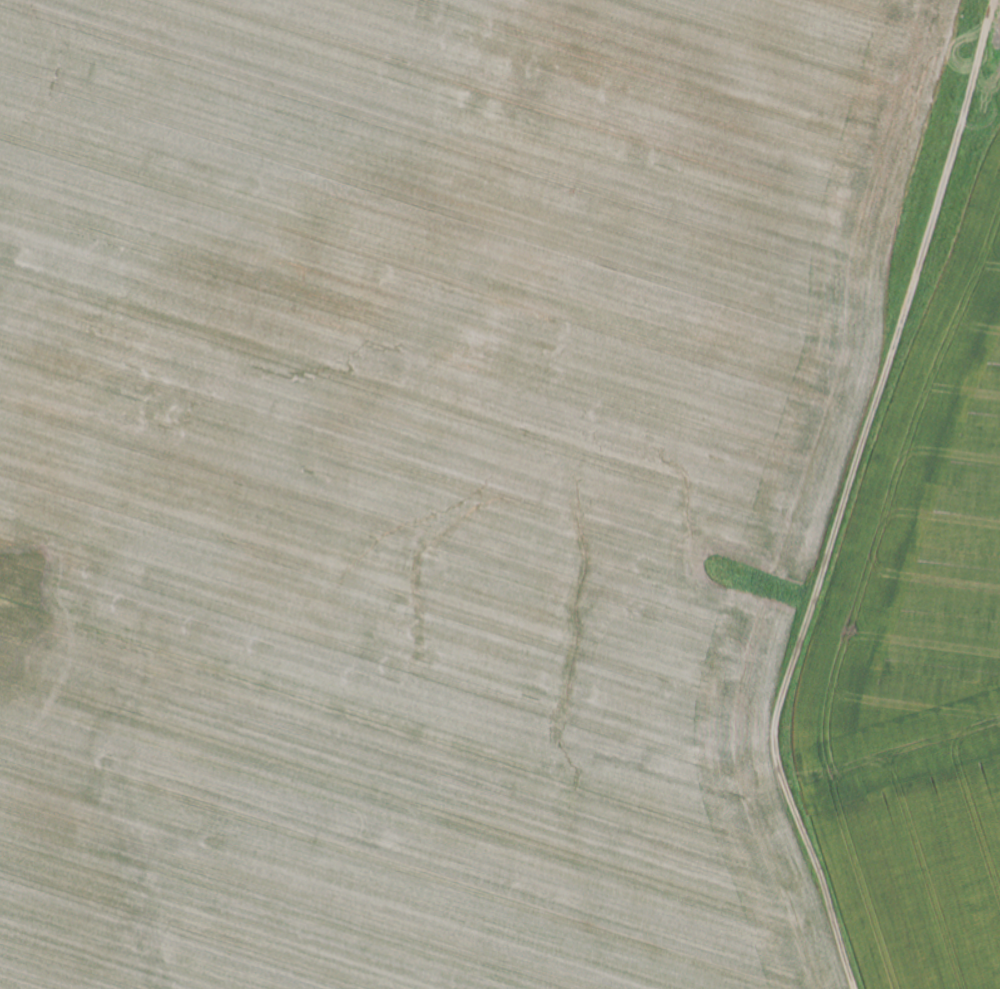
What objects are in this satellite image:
road: (870, 580)

